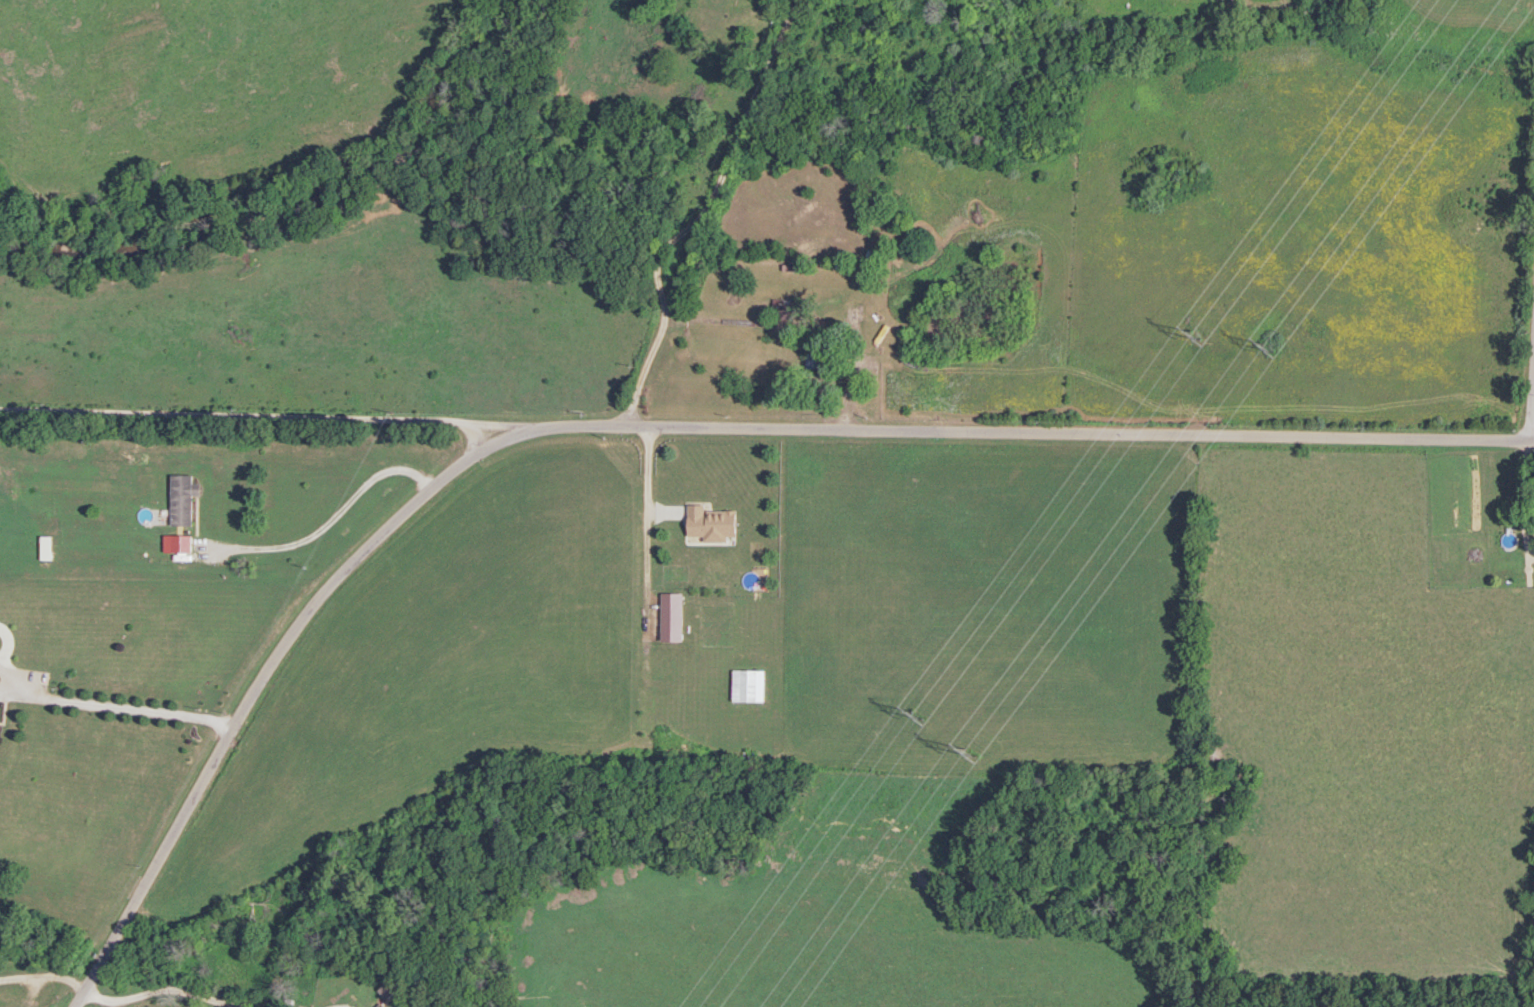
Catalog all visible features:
road: (727, 213)
building: (781, 309)
power tower: (1198, 334)
power tower: (1267, 343)
building: (813, 362)
road: (1530, 368)
road: (255, 415)
road: (653, 420)
building: (184, 497)
building: (716, 521)
road: (328, 522)
building: (47, 546)
building: (746, 684)
power tower: (919, 712)
power tower: (972, 755)
road: (159, 988)

